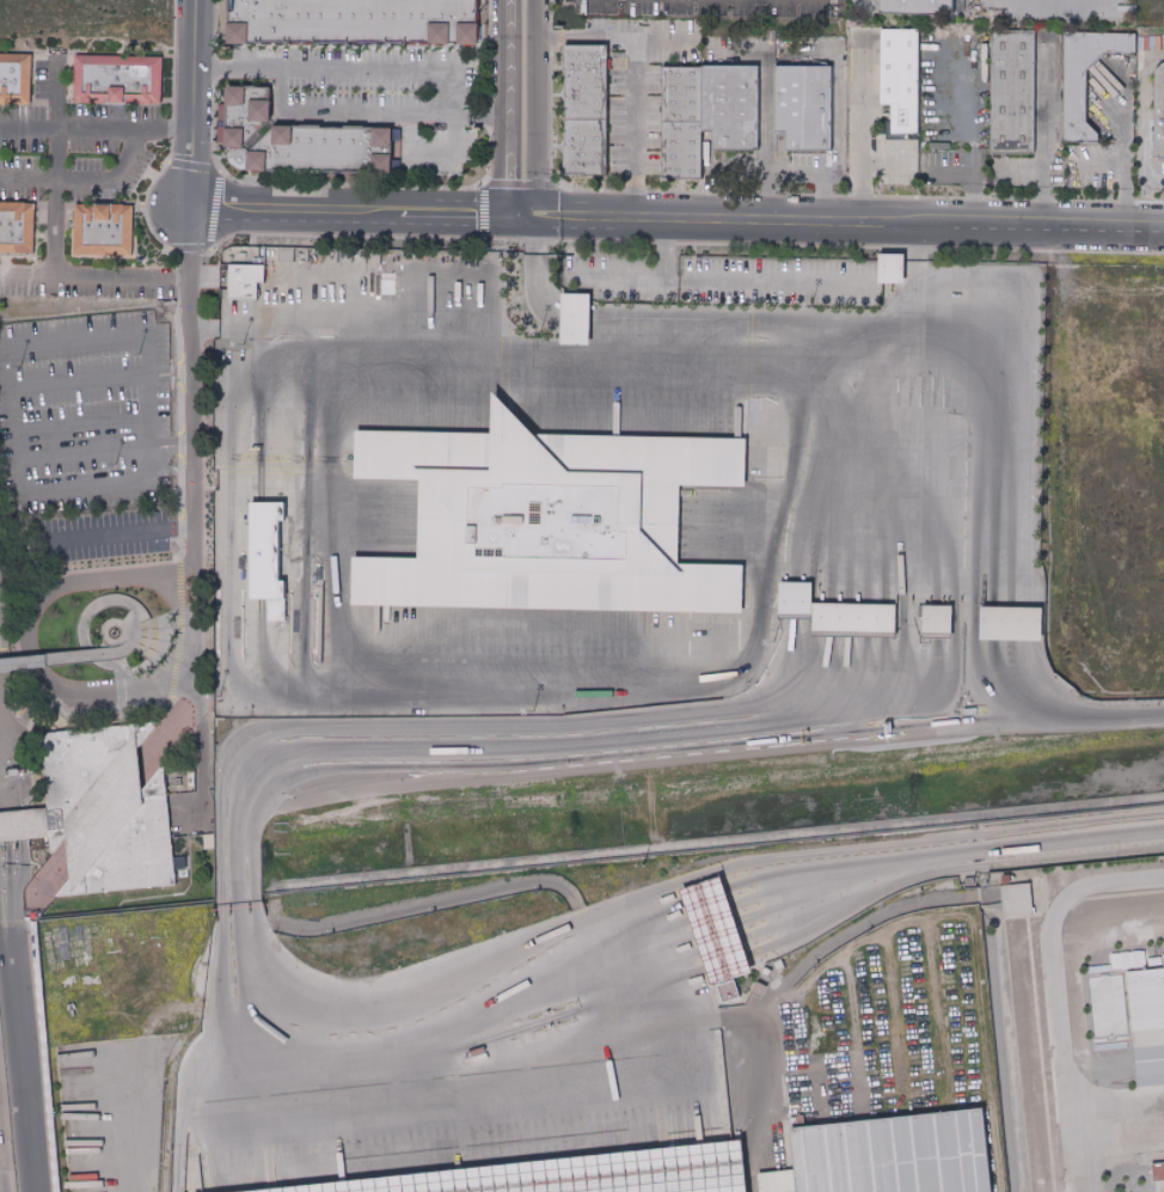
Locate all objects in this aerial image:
road: (866, 5)
building: (920, 6)
building: (349, 22)
road: (578, 35)
road: (344, 73)
building: (14, 78)
building: (116, 81)
building: (900, 84)
road: (632, 98)
building: (1015, 99)
road: (190, 102)
building: (1076, 104)
road: (500, 109)
road: (525, 109)
building: (730, 111)
building: (804, 112)
building: (586, 115)
road: (367, 116)
building: (1159, 118)
road: (26, 126)
building: (681, 127)
road: (122, 128)
road: (1141, 132)
building: (301, 139)
road: (442, 155)
road: (51, 164)
road: (857, 166)
road: (1122, 169)
road: (791, 171)
road: (106, 175)
road: (1041, 175)
road: (25, 178)
road: (975, 192)
road: (350, 210)
road: (844, 225)
building: (103, 231)
building: (17, 232)
building: (889, 270)
road: (92, 274)
building: (246, 281)
road: (612, 285)
road: (735, 287)
building: (575, 319)
road: (716, 319)
road: (300, 328)
road: (256, 338)
road: (946, 343)
road: (845, 356)
road: (186, 362)
road: (76, 380)
parking lot: (84, 411)
road: (80, 423)
road: (103, 448)
road: (146, 466)
building: (547, 518)
road: (329, 528)
road: (110, 531)
building: (264, 560)
road: (797, 579)
road: (171, 600)
building: (794, 601)
road: (176, 612)
road: (80, 619)
building: (852, 621)
building: (317, 623)
building: (936, 623)
road: (130, 626)
building: (1009, 626)
road: (24, 632)
road: (134, 634)
road: (146, 634)
road: (158, 634)
road: (306, 643)
road: (155, 652)
road: (65, 658)
road: (4, 703)
road: (130, 705)
road: (114, 711)
road: (749, 720)
road: (1061, 722)
road: (178, 727)
road: (4, 735)
road: (4, 736)
road: (4, 740)
road: (198, 744)
road: (4, 746)
road: (4, 765)
road: (13, 769)
road: (552, 769)
road: (8, 770)
road: (130, 783)
parking lot: (194, 806)
building: (108, 809)
road: (90, 811)
road: (19, 825)
building: (24, 825)
road: (93, 825)
road: (8, 826)
road: (102, 837)
road: (946, 856)
road: (305, 860)
road: (42, 870)
road: (50, 879)
building: (1006, 880)
road: (7, 885)
road: (18, 885)
road: (62, 890)
road: (56, 892)
road: (711, 900)
building: (1016, 900)
building: (29, 901)
road: (31, 912)
building: (719, 924)
road: (935, 924)
building: (1163, 943)
road: (651, 974)
road: (1055, 991)
road: (784, 1000)
road: (941, 1010)
road: (897, 1014)
road: (854, 1031)
road: (415, 1035)
building: (1148, 1041)
road: (41, 1051)
building: (48, 1055)
road: (564, 1058)
road: (24, 1059)
road: (48, 1059)
road: (131, 1064)
road: (184, 1090)
road: (185, 1149)
building: (892, 1155)
building: (1158, 1170)
building: (569, 1173)
road: (134, 1184)
road: (108, 1188)

